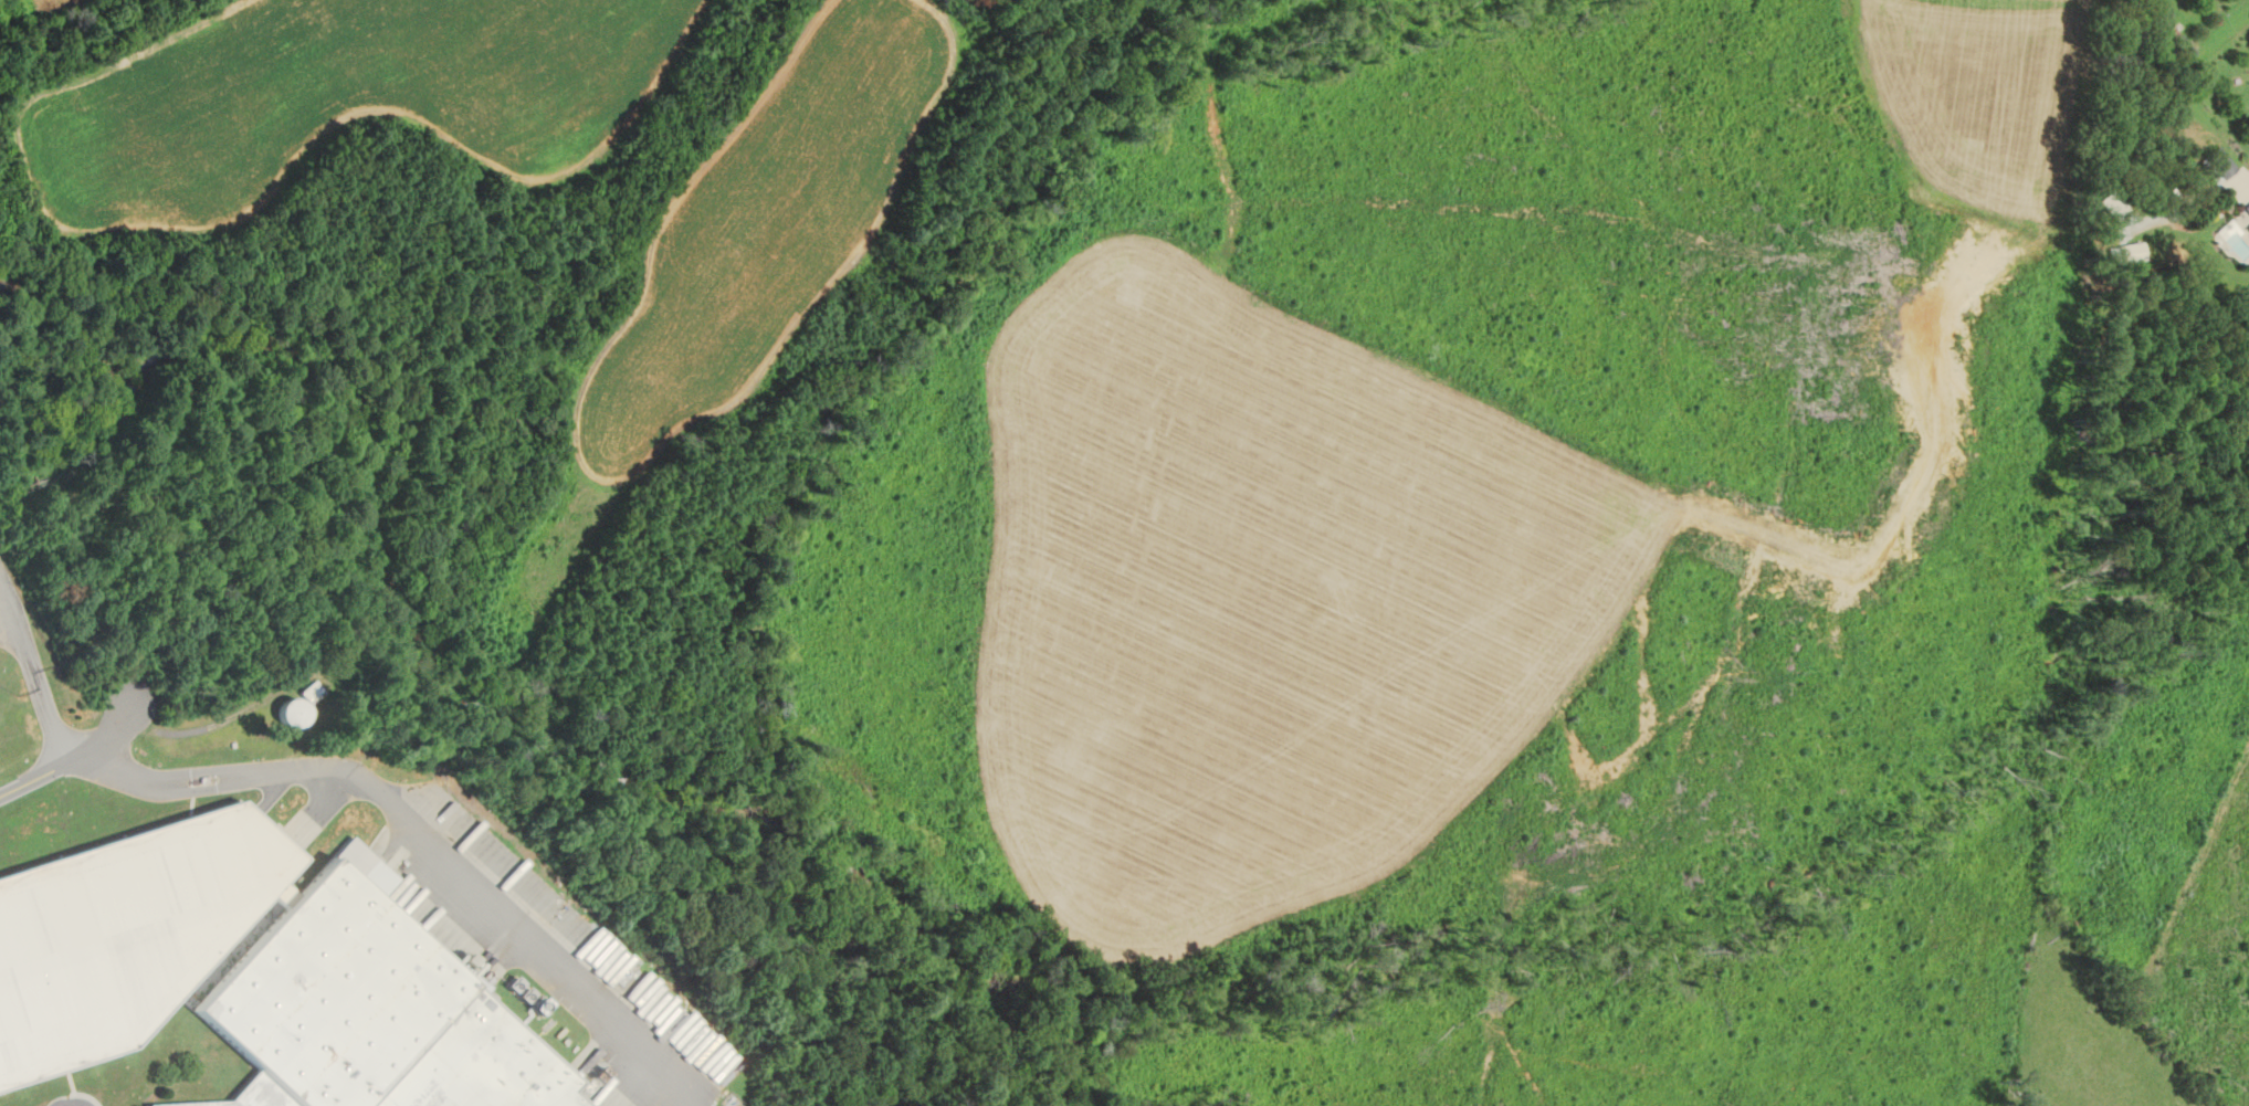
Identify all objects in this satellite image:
building: (2216, 166)
building: (2245, 213)
building: (2130, 254)
road: (42, 673)
building: (294, 713)
storage tank: (294, 713)
road: (75, 766)
road: (431, 839)
building: (125, 934)
building: (369, 1017)

